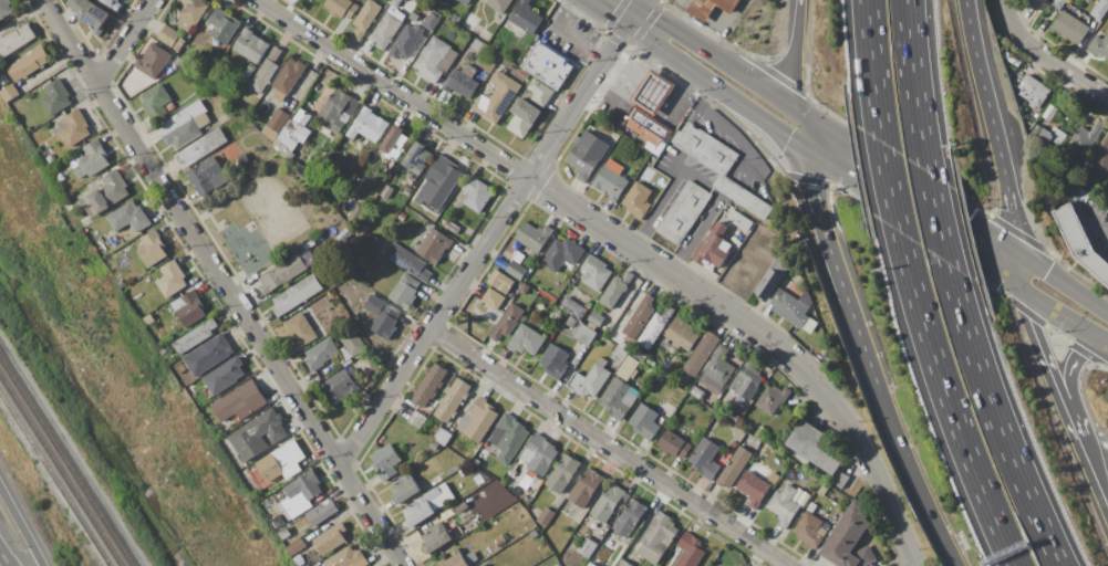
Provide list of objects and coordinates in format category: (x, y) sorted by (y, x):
building: (469, 0)
building: (464, 1)
building: (394, 2)
building: (112, 3)
building: (1058, 3)
building: (499, 4)
building: (1036, 4)
building: (710, 7)
road: (1001, 7)
building: (341, 8)
road: (621, 8)
road: (638, 8)
building: (4, 9)
building: (1100, 9)
building: (190, 12)
building: (91, 14)
traffic signals: (633, 15)
building: (526, 17)
building: (365, 19)
building: (456, 19)
building: (432, 20)
building: (469, 22)
road: (796, 24)
building: (222, 25)
building: (1070, 28)
building: (386, 30)
building: (168, 35)
road: (563, 35)
building: (15, 40)
road: (123, 41)
building: (408, 42)
building: (179, 44)
building: (250, 45)
building: (1099, 46)
road: (717, 54)
building: (1011, 59)
building: (435, 60)
building: (153, 61)
road: (1050, 61)
building: (29, 64)
building: (548, 65)
building: (172, 67)
building: (250, 67)
road: (872, 71)
building: (265, 72)
road: (108, 74)
building: (247, 74)
building: (288, 76)
building: (462, 80)
road: (790, 80)
road: (713, 85)
road: (913, 86)
building: (1033, 91)
building: (9, 93)
building: (540, 93)
building: (654, 93)
building: (55, 97)
building: (497, 98)
road: (985, 99)
building: (155, 103)
building: (338, 109)
traffic signals: (798, 109)
building: (1049, 112)
building: (522, 117)
building: (639, 117)
building: (278, 119)
building: (186, 125)
building: (367, 126)
building: (74, 127)
road: (723, 127)
road: (801, 128)
building: (1036, 132)
building: (291, 134)
building: (663, 134)
building: (1086, 137)
building: (1052, 138)
building: (394, 141)
traffic signals: (806, 147)
building: (201, 148)
building: (670, 154)
building: (587, 155)
building: (1101, 156)
building: (416, 158)
building: (50, 159)
building: (91, 159)
building: (718, 166)
building: (207, 176)
road: (907, 180)
building: (439, 182)
building: (664, 182)
building: (611, 184)
road: (890, 187)
building: (110, 191)
road: (812, 191)
building: (476, 195)
building: (638, 201)
road: (659, 203)
building: (397, 205)
road: (225, 207)
park: (275, 211)
building: (684, 212)
building: (128, 217)
park: (262, 217)
road: (213, 218)
road: (912, 218)
road: (935, 218)
building: (739, 220)
road: (1095, 220)
parking lot: (1095, 223)
road: (1013, 226)
building: (451, 227)
road: (695, 234)
building: (734, 235)
building: (114, 237)
building: (534, 237)
road: (486, 240)
building: (1080, 242)
building: (434, 244)
road: (629, 244)
building: (714, 248)
building: (152, 249)
traffic signals: (1016, 252)
building: (561, 254)
building: (518, 256)
road: (228, 261)
building: (408, 261)
building: (511, 268)
road: (1017, 271)
building: (364, 272)
building: (596, 273)
building: (282, 274)
building: (172, 277)
road: (235, 281)
building: (500, 282)
road: (1062, 282)
road: (221, 283)
building: (768, 284)
building: (614, 290)
traffic signals: (1018, 290)
building: (405, 291)
building: (298, 294)
building: (581, 294)
building: (365, 296)
building: (493, 298)
building: (588, 305)
building: (787, 305)
building: (189, 307)
building: (572, 307)
road: (851, 313)
building: (639, 317)
road: (1063, 317)
building: (594, 321)
building: (385, 322)
building: (508, 322)
building: (570, 322)
building: (654, 327)
building: (302, 329)
building: (584, 334)
building: (681, 334)
building: (196, 336)
building: (526, 339)
traffic signals: (1100, 340)
building: (352, 344)
building: (624, 347)
building: (620, 353)
building: (321, 354)
building: (702, 354)
building: (207, 355)
building: (638, 355)
building: (555, 361)
building: (628, 367)
building: (719, 367)
road: (1048, 369)
building: (651, 370)
building: (671, 371)
building: (224, 376)
building: (590, 379)
building: (747, 380)
building: (342, 385)
building: (428, 385)
road: (1071, 388)
building: (190, 390)
building: (206, 395)
building: (772, 398)
building: (452, 399)
building: (615, 399)
building: (240, 401)
road: (948, 401)
building: (427, 409)
building: (739, 409)
road: (995, 417)
building: (478, 419)
building: (417, 420)
building: (644, 422)
building: (759, 432)
building: (258, 434)
building: (442, 436)
building: (508, 437)
road: (348, 444)
building: (674, 444)
building: (434, 446)
road: (608, 446)
building: (733, 446)
building: (812, 447)
building: (480, 453)
building: (539, 454)
building: (705, 459)
railway: (66, 462)
building: (281, 462)
building: (385, 462)
building: (480, 464)
building: (734, 467)
railway: (60, 471)
building: (562, 474)
road: (921, 478)
road: (1095, 478)
building: (479, 479)
railway: (54, 480)
building: (840, 480)
building: (527, 486)
building: (586, 488)
building: (405, 489)
building: (753, 489)
building: (278, 496)
building: (298, 499)
building: (608, 503)
building: (784, 505)
building: (422, 507)
building: (456, 511)
building: (322, 513)
building: (546, 516)
building: (630, 517)
road: (20, 527)
building: (810, 528)
building: (284, 534)
building: (534, 534)
building: (435, 537)
building: (657, 537)
building: (331, 538)
building: (849, 539)
building: (500, 541)
building: (297, 547)
building: (587, 547)
building: (690, 552)
building: (348, 558)
building: (299, 559)
building: (458, 559)
road: (1, 563)
building: (624, 563)
building: (483, 565)
building: (588, 565)
road: (914, 565)

